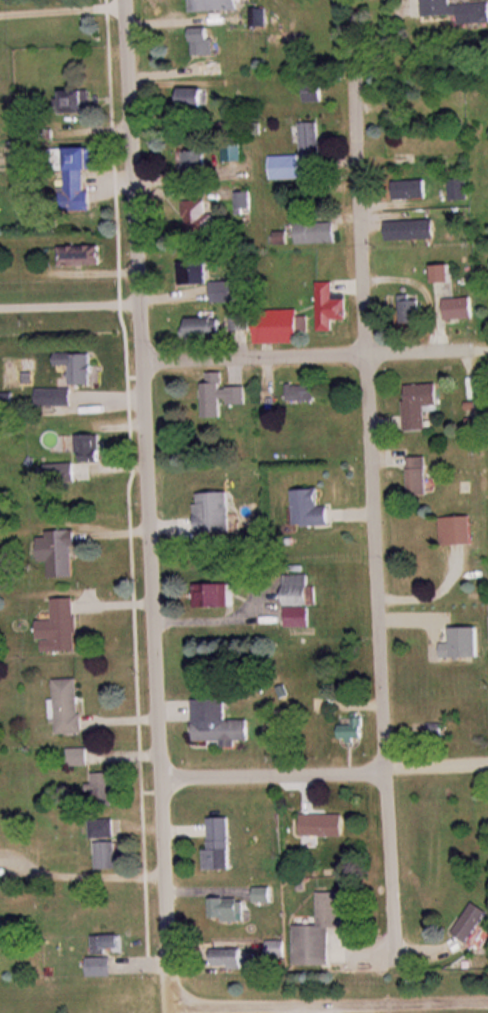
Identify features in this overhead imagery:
building: (215, 6)
building: (456, 11)
building: (204, 43)
building: (195, 98)
building: (79, 103)
building: (310, 139)
building: (196, 163)
building: (71, 178)
building: (410, 190)
building: (460, 190)
building: (199, 219)
building: (412, 230)
building: (318, 233)
building: (81, 256)
building: (195, 273)
building: (445, 274)
building: (224, 292)
building: (331, 307)
building: (460, 309)
building: (411, 310)
building: (241, 322)
building: (281, 326)
building: (206, 328)
road: (317, 364)
building: (78, 368)
building: (302, 394)
building: (221, 396)
building: (55, 398)
building: (421, 404)
building: (91, 449)
building: (419, 476)
road: (151, 478)
road: (376, 478)
building: (311, 508)
building: (214, 512)
building: (458, 530)
building: (60, 553)
building: (216, 595)
building: (299, 600)
building: (62, 627)
building: (463, 643)
building: (70, 706)
building: (218, 723)
building: (352, 728)
building: (79, 757)
road: (325, 781)
building: (103, 789)
building: (324, 825)
building: (105, 844)
building: (220, 844)
building: (265, 895)
building: (229, 910)
building: (475, 926)
building: (319, 933)
building: (108, 944)
building: (277, 952)
building: (230, 958)
building: (101, 967)
road: (171, 985)

